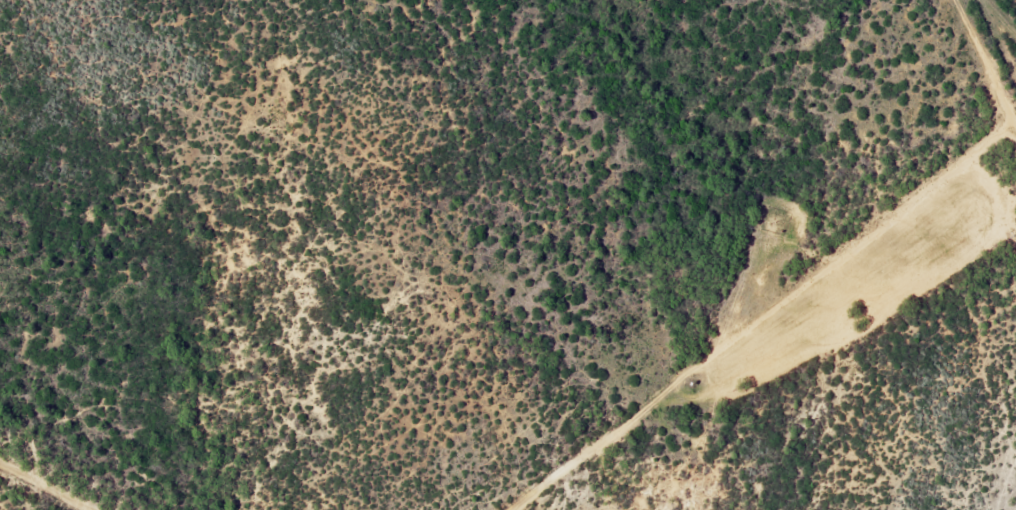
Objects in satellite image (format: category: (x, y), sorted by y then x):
road: (1006, 11)
road: (44, 487)

